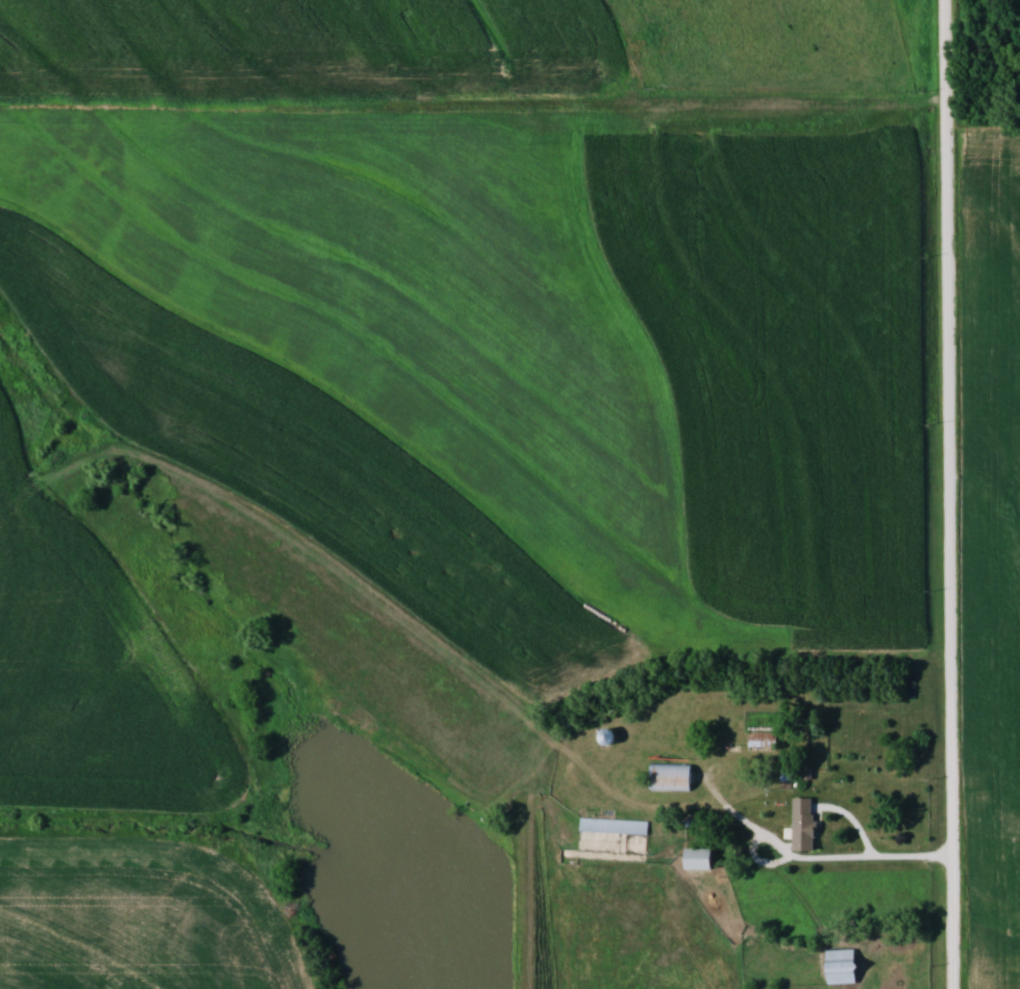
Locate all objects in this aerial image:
road: (953, 494)
building: (762, 741)
building: (673, 777)
building: (614, 825)
building: (806, 825)
building: (703, 859)
road: (865, 860)
building: (843, 967)

